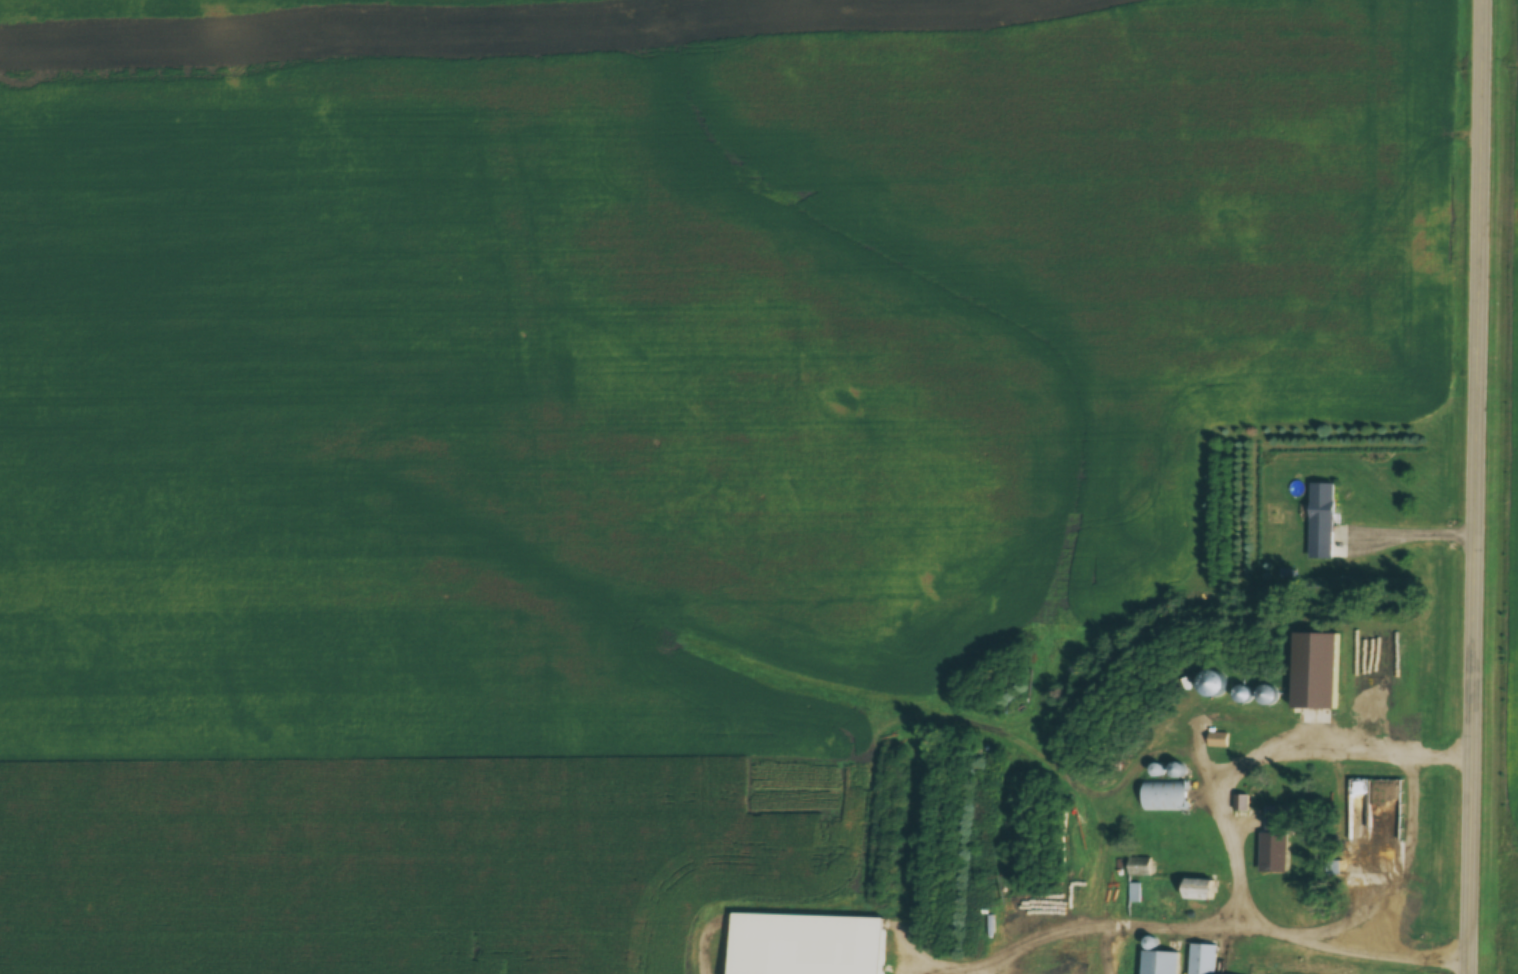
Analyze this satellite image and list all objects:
road: (1483, 487)
building: (1315, 516)
building: (1305, 672)
building: (1400, 678)
building: (1156, 798)
building: (1376, 807)
building: (1196, 960)
building: (1153, 964)

